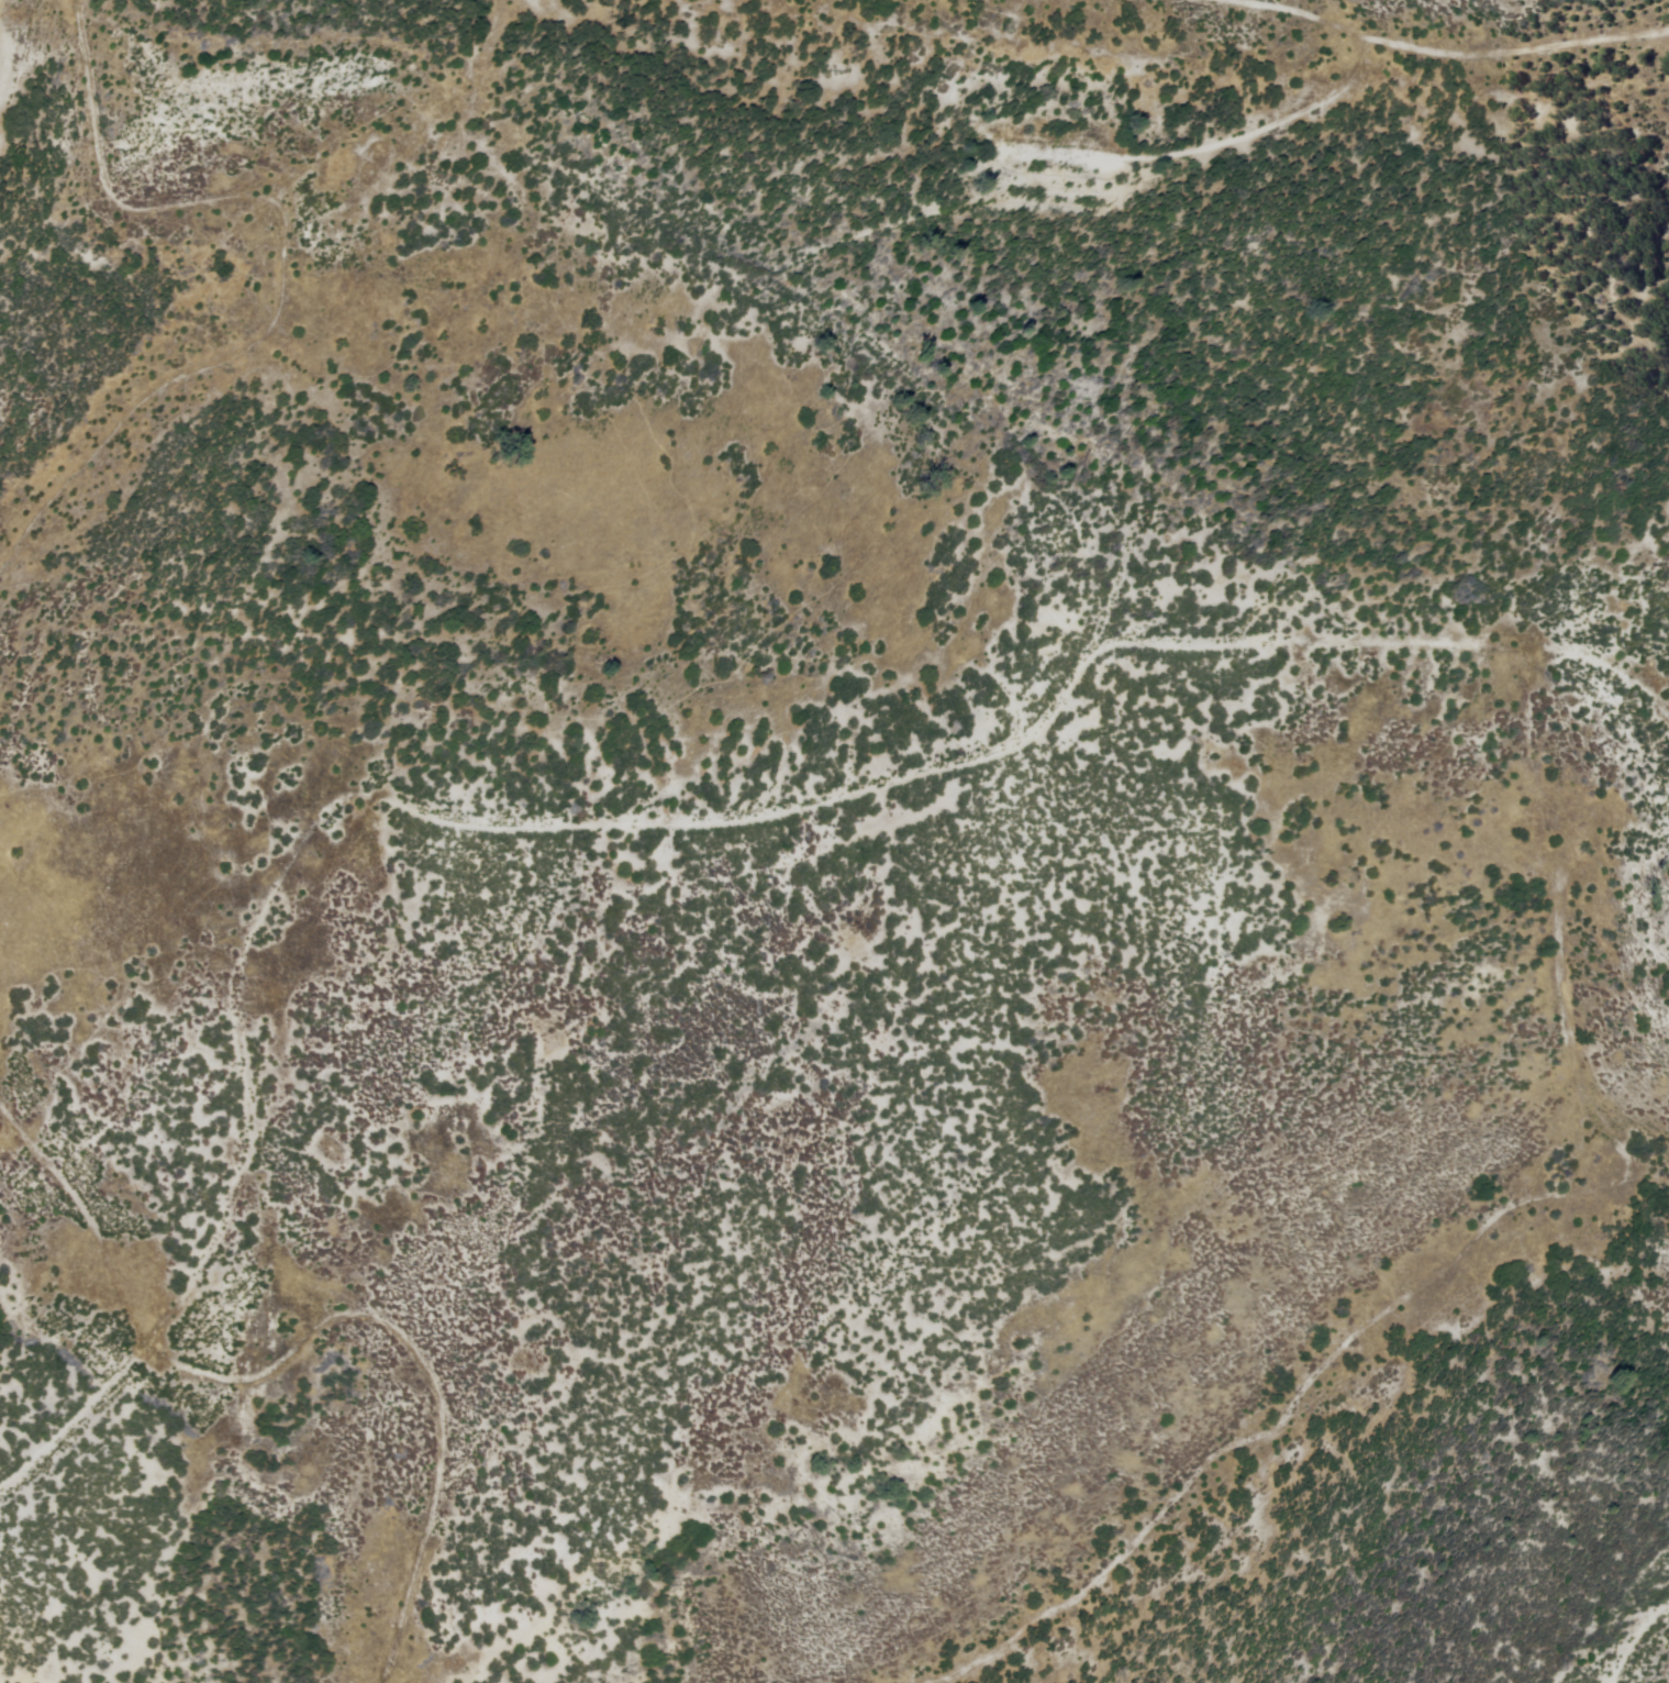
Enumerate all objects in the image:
road: (1272, 64)
road: (1420, 638)

